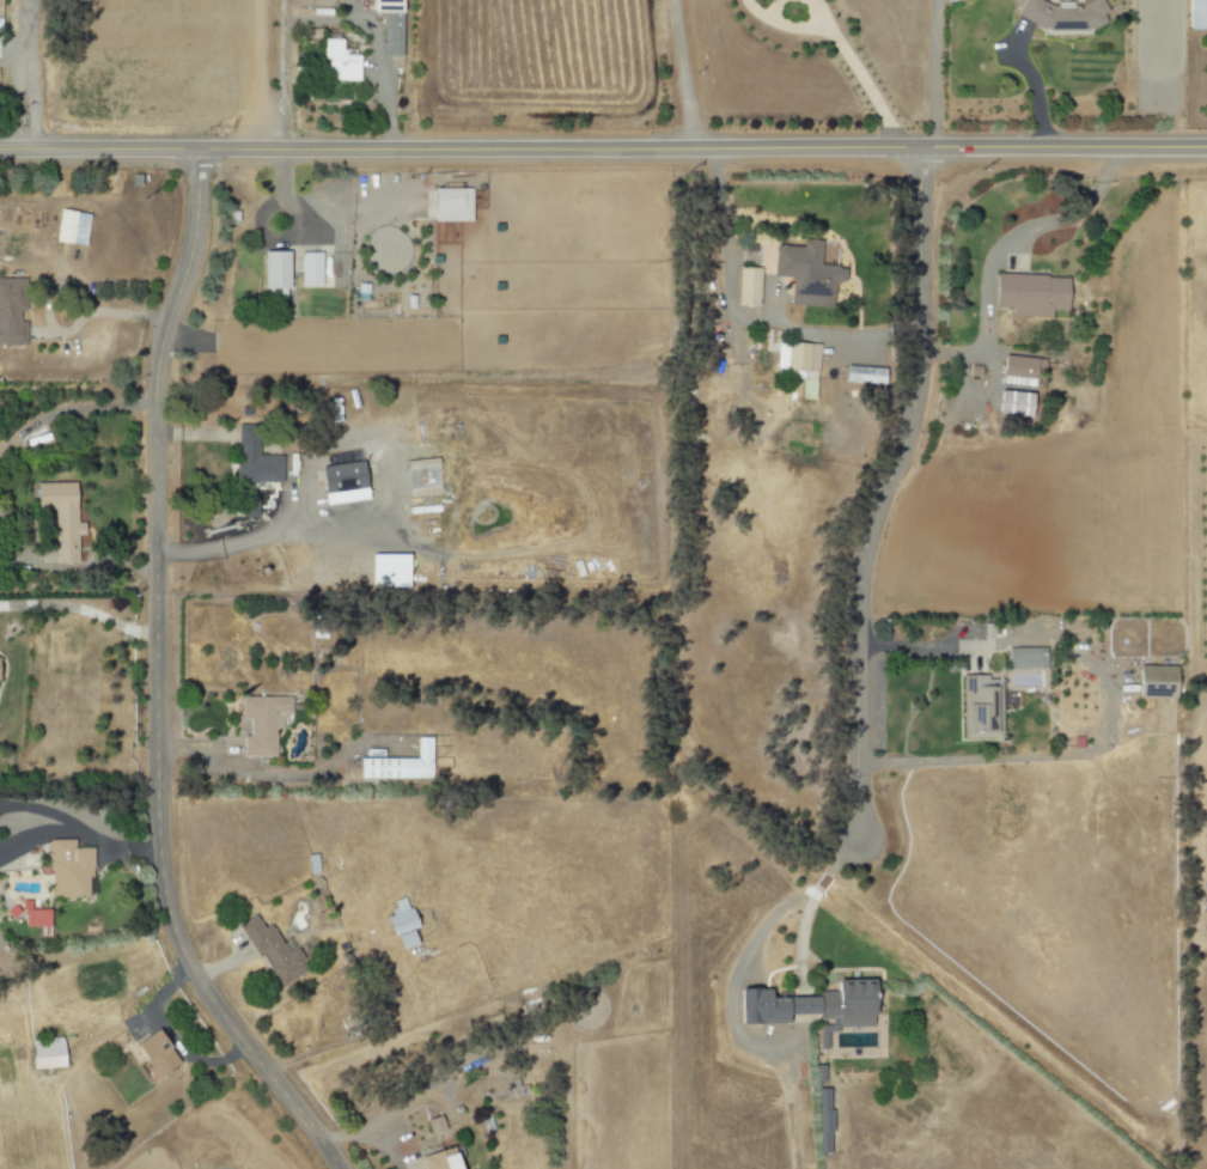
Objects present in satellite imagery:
building: (1062, 14)
building: (1195, 14)
building: (389, 25)
road: (374, 47)
road: (840, 47)
road: (282, 55)
building: (336, 62)
road: (933, 72)
road: (684, 73)
road: (32, 74)
road: (257, 75)
road: (603, 147)
building: (450, 205)
building: (71, 227)
road: (993, 255)
building: (309, 268)
building: (274, 273)
building: (804, 273)
building: (745, 286)
building: (1029, 294)
building: (10, 312)
road: (739, 317)
road: (97, 318)
building: (857, 373)
building: (1012, 404)
road: (69, 410)
building: (254, 463)
building: (421, 476)
building: (340, 477)
road: (884, 486)
building: (248, 509)
building: (59, 517)
road: (244, 540)
road: (67, 571)
building: (386, 571)
road: (80, 608)
road: (921, 647)
building: (1018, 658)
building: (1154, 681)
road: (156, 683)
building: (979, 707)
building: (260, 724)
road: (1075, 754)
building: (398, 765)
road: (244, 777)
road: (38, 810)
road: (38, 836)
road: (114, 844)
building: (67, 870)
road: (812, 896)
building: (35, 919)
building: (400, 925)
building: (268, 949)
road: (219, 966)
building: (809, 1005)
road: (169, 1039)
building: (44, 1053)
building: (153, 1054)
building: (433, 1124)
road: (366, 1141)
building: (438, 1159)

